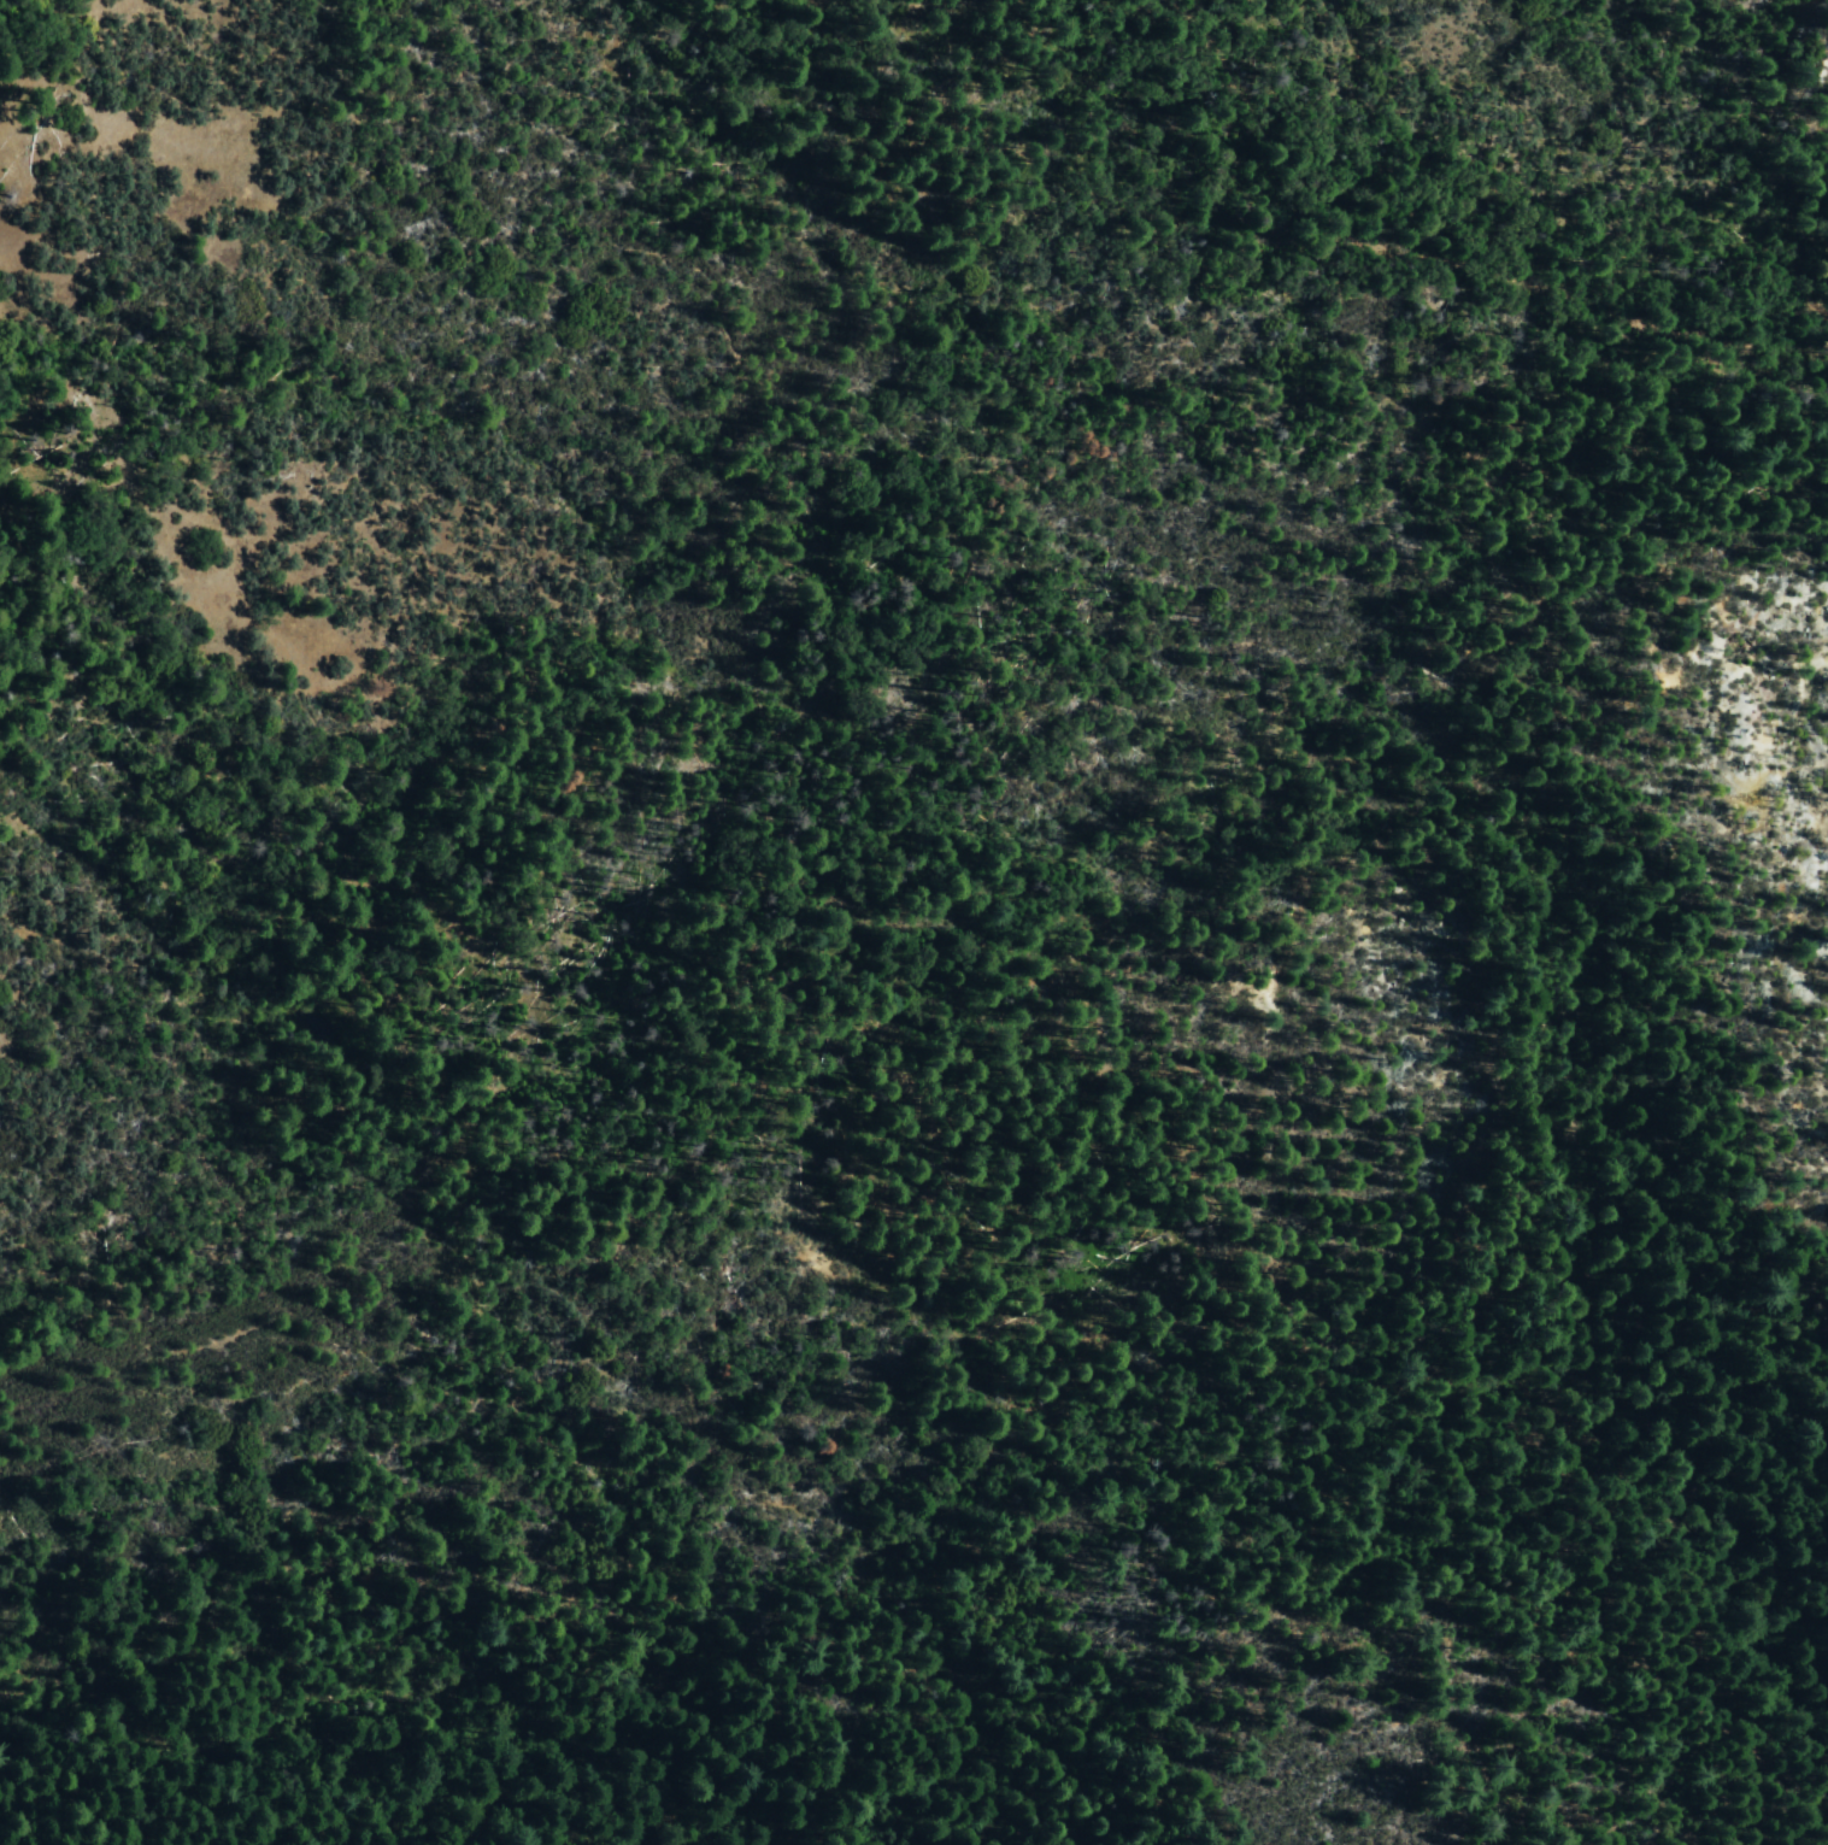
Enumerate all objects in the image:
park: (913, 922)

